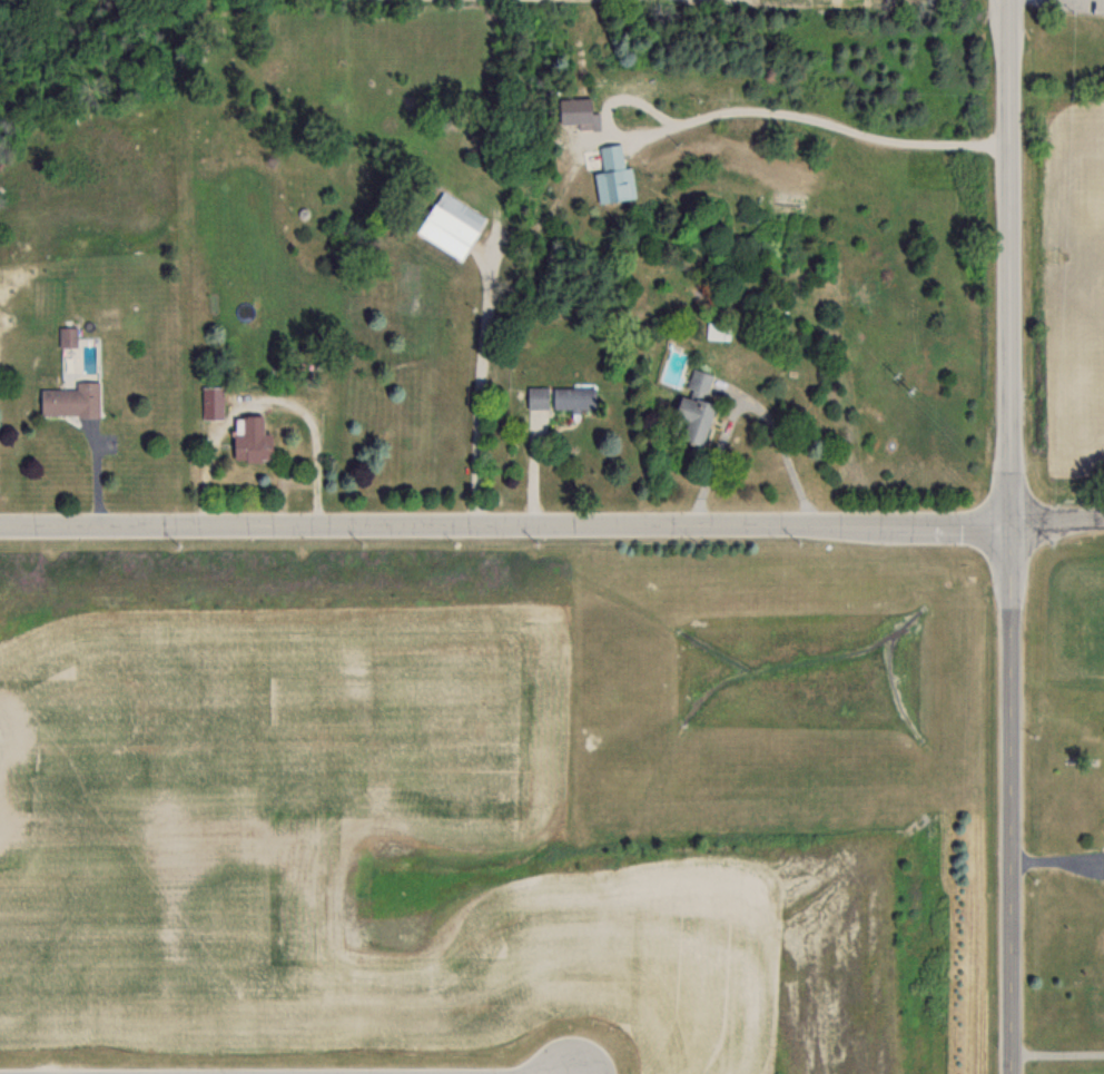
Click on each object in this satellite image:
road: (811, 109)
building: (451, 224)
road: (1009, 260)
building: (717, 331)
building: (66, 336)
building: (532, 398)
building: (572, 398)
building: (69, 400)
road: (269, 400)
building: (211, 402)
building: (693, 408)
building: (249, 439)
road: (85, 479)
road: (1058, 520)
road: (505, 526)
road: (1013, 797)
road: (1058, 1051)

